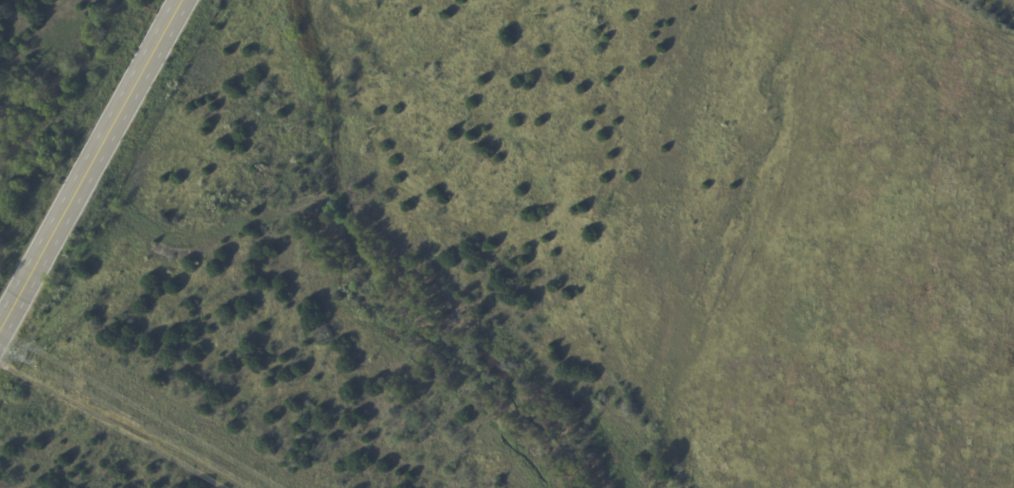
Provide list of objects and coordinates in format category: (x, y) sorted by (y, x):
road: (92, 165)
power tower: (36, 354)

